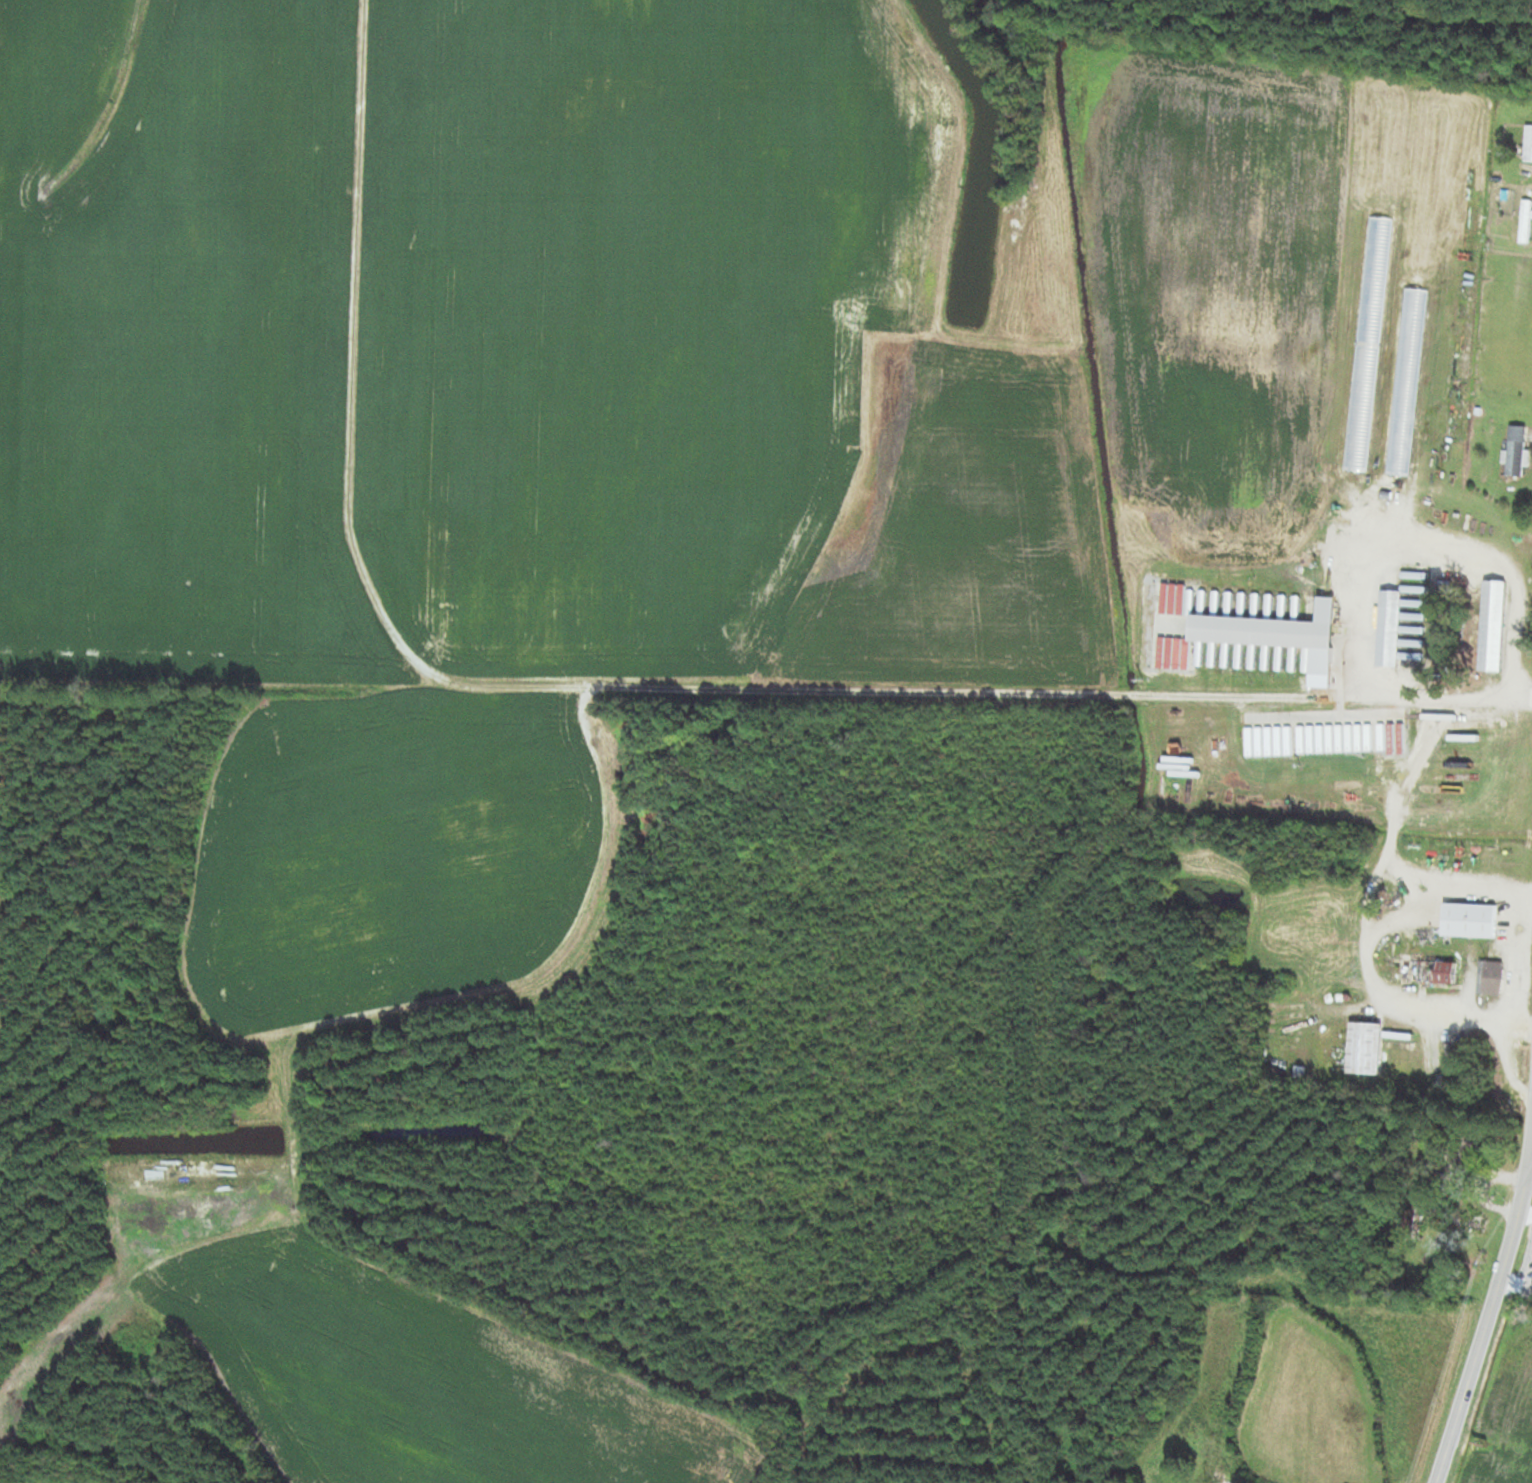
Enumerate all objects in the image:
building: (1527, 143)
building: (1525, 223)
building: (1406, 381)
building: (1515, 450)
building: (1492, 626)
building: (1388, 628)
building: (1268, 629)
building: (1468, 921)
building: (1427, 972)
building: (1491, 978)
building: (1364, 1049)
building: (1469, 1151)
road: (1530, 1169)
building: (1415, 1213)
building: (1474, 1221)
power tower: (1482, 1263)
road: (1490, 1315)
power tower: (1438, 1403)

